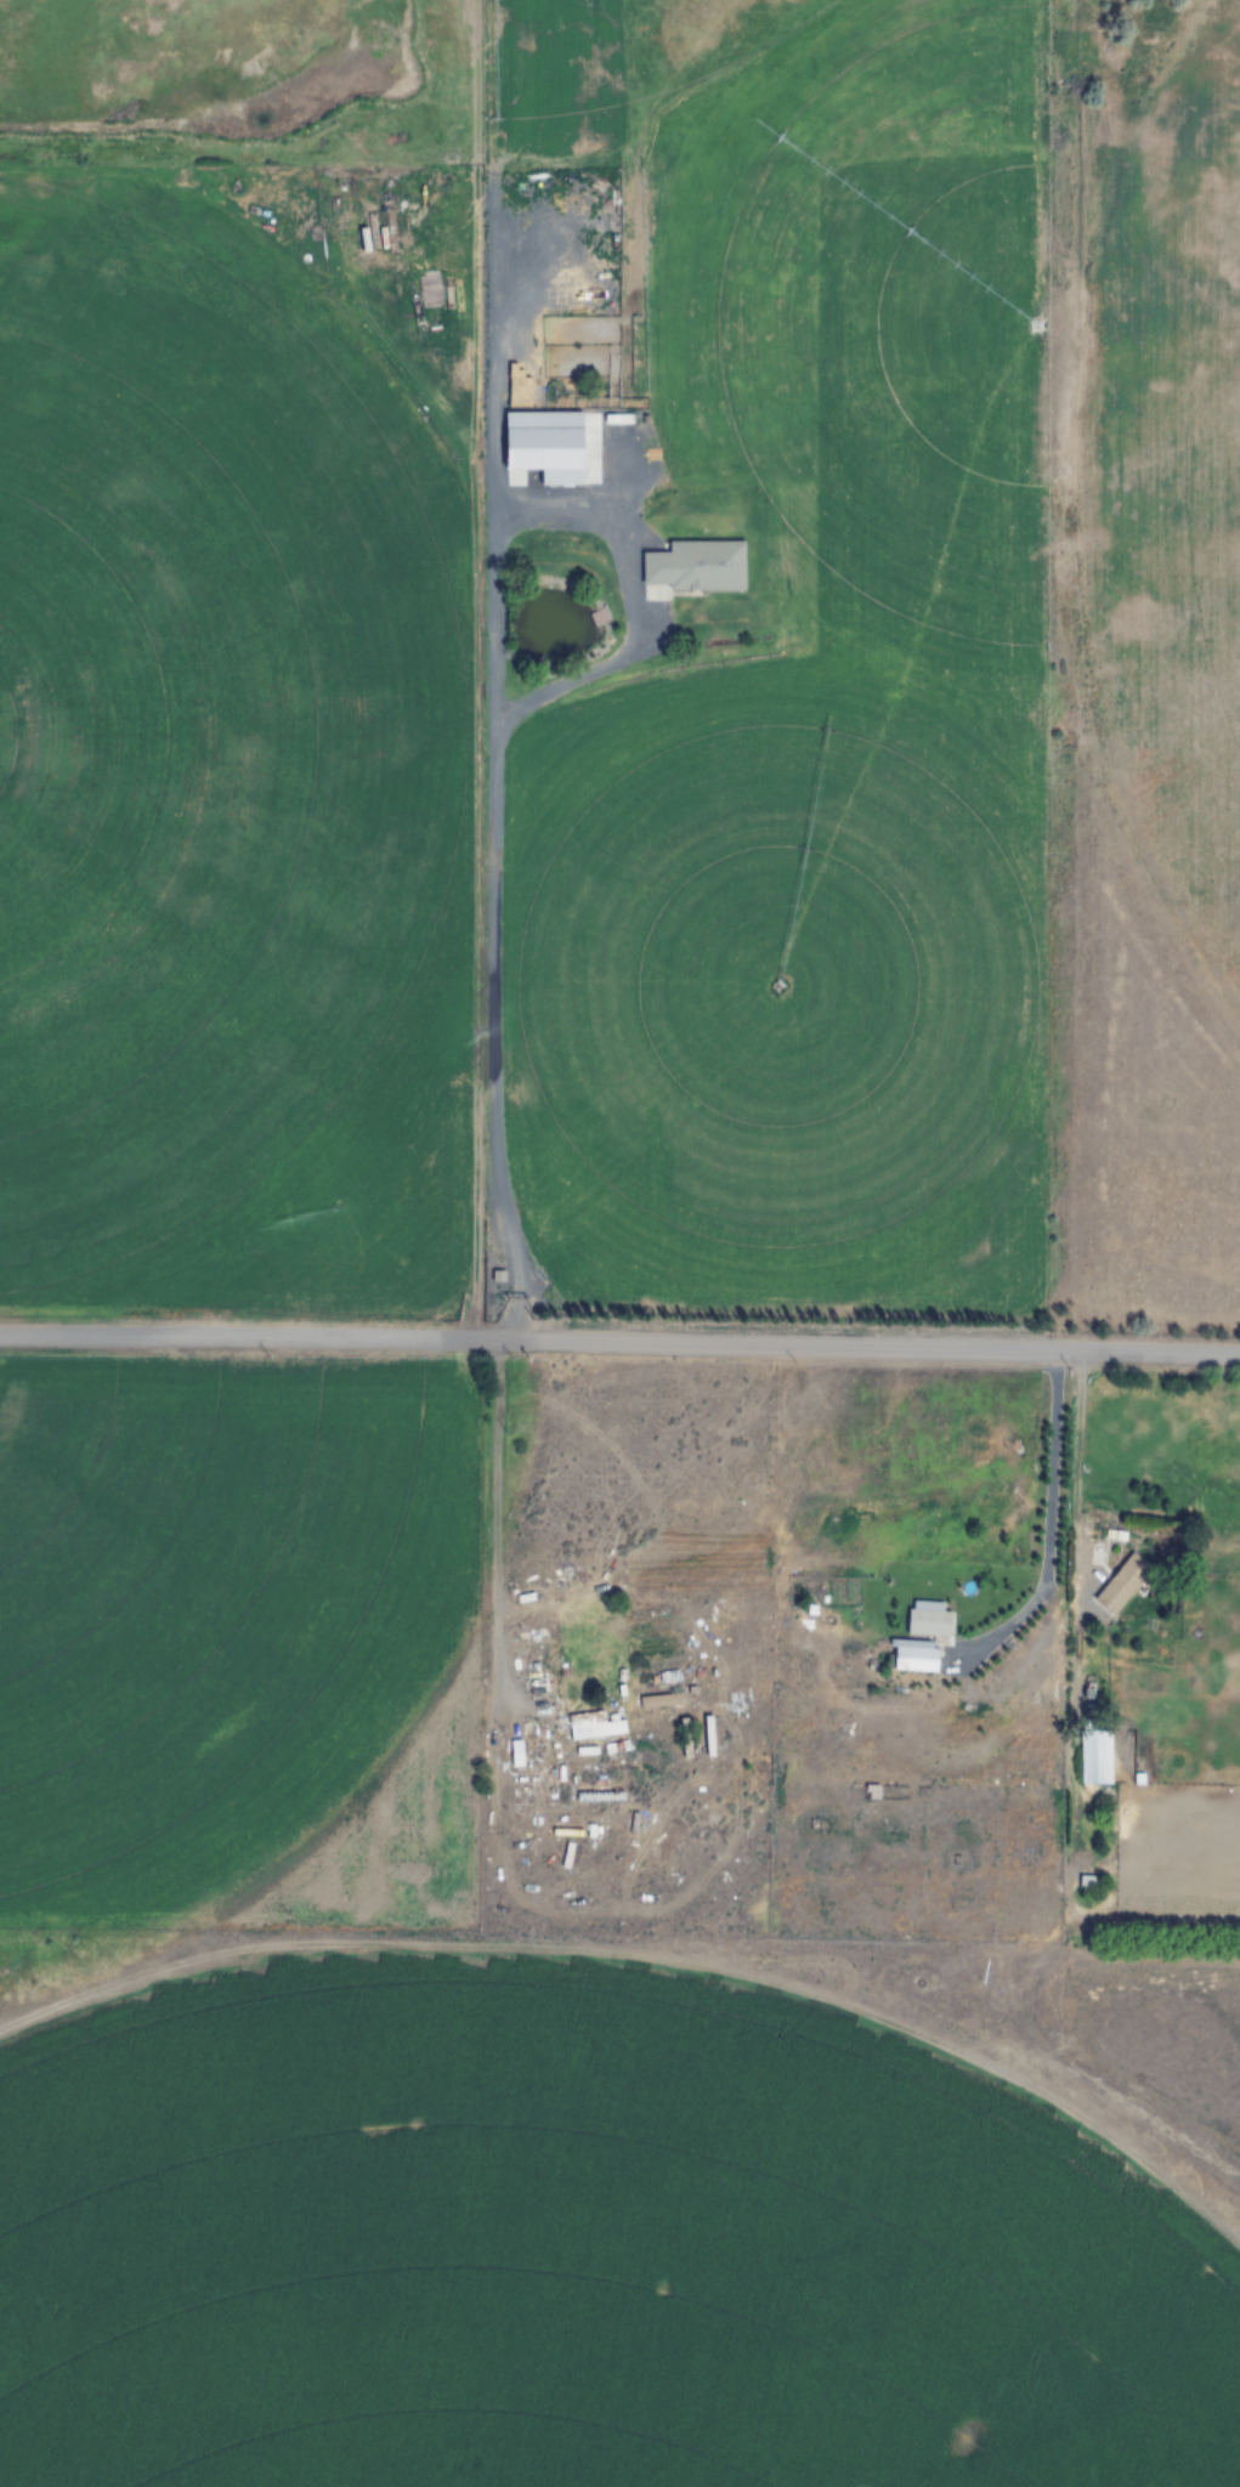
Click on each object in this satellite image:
crop: (634, 64)
building: (358, 194)
building: (559, 449)
crop: (1167, 472)
building: (693, 567)
crop: (197, 737)
crop: (781, 1002)
road: (619, 1338)
road: (499, 1500)
building: (1126, 1584)
crop: (226, 1597)
building: (916, 1655)
building: (661, 1700)
building: (591, 1726)
building: (684, 1738)
building: (1093, 1756)
crop: (573, 2254)

